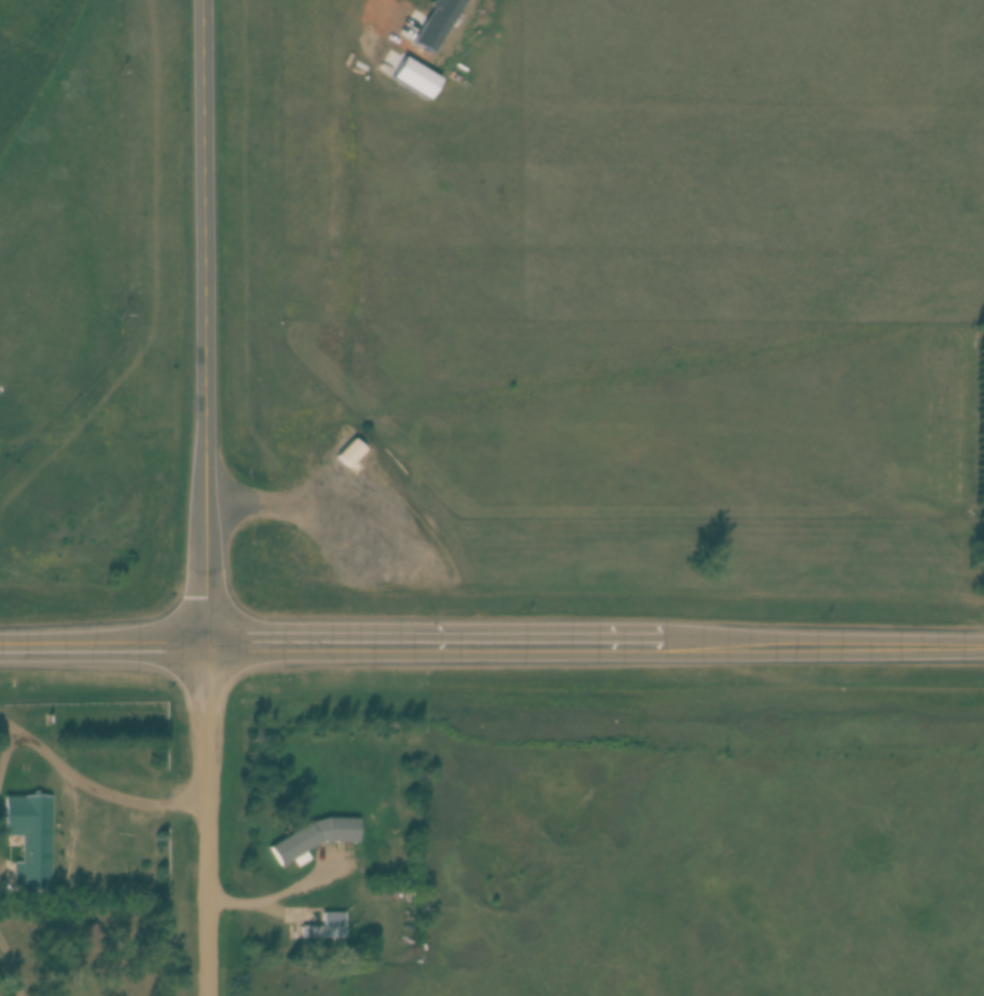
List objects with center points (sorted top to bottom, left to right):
building: (437, 22)
building: (416, 78)
road: (202, 320)
building: (350, 451)
road: (267, 496)
road: (101, 637)
road: (821, 643)
road: (430, 646)
road: (7, 748)
road: (91, 782)
road: (204, 818)
building: (30, 837)
building: (313, 837)
road: (73, 880)
building: (326, 926)

